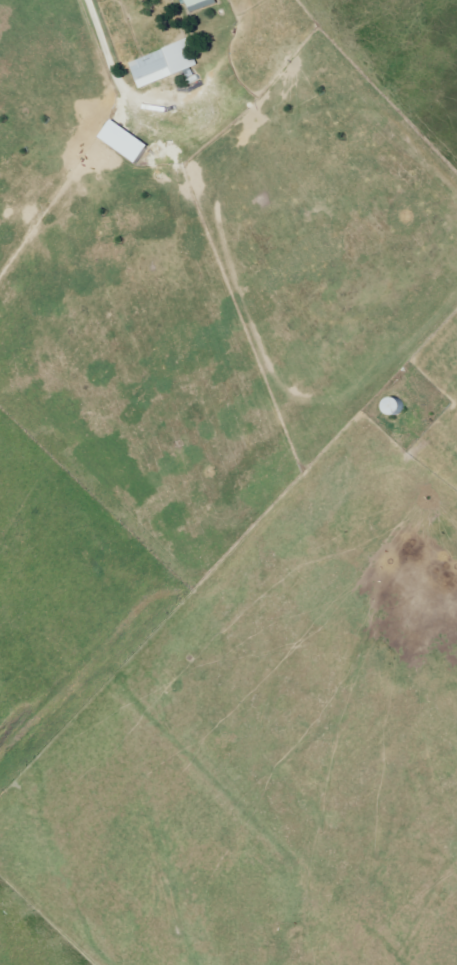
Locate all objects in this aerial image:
building: (199, 6)
road: (109, 67)
building: (164, 68)
building: (128, 142)

